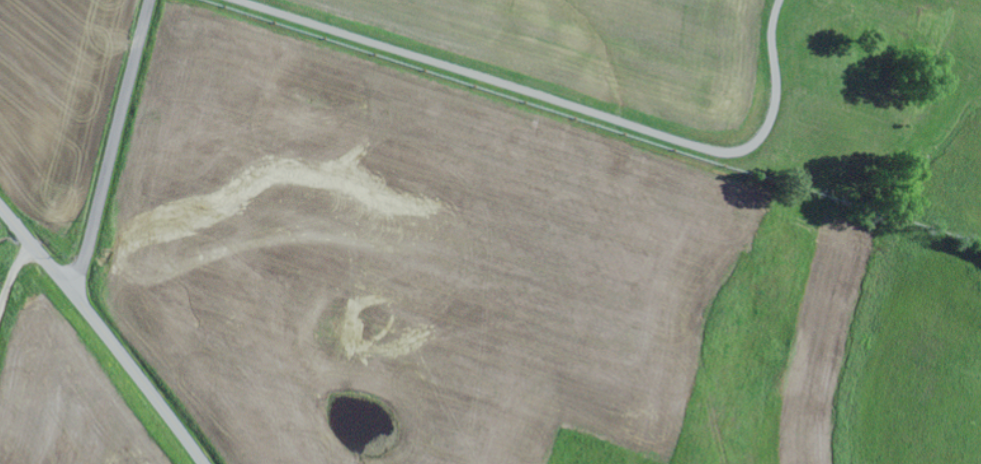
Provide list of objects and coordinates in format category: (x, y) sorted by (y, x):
road: (112, 145)
road: (7, 273)
road: (104, 333)

